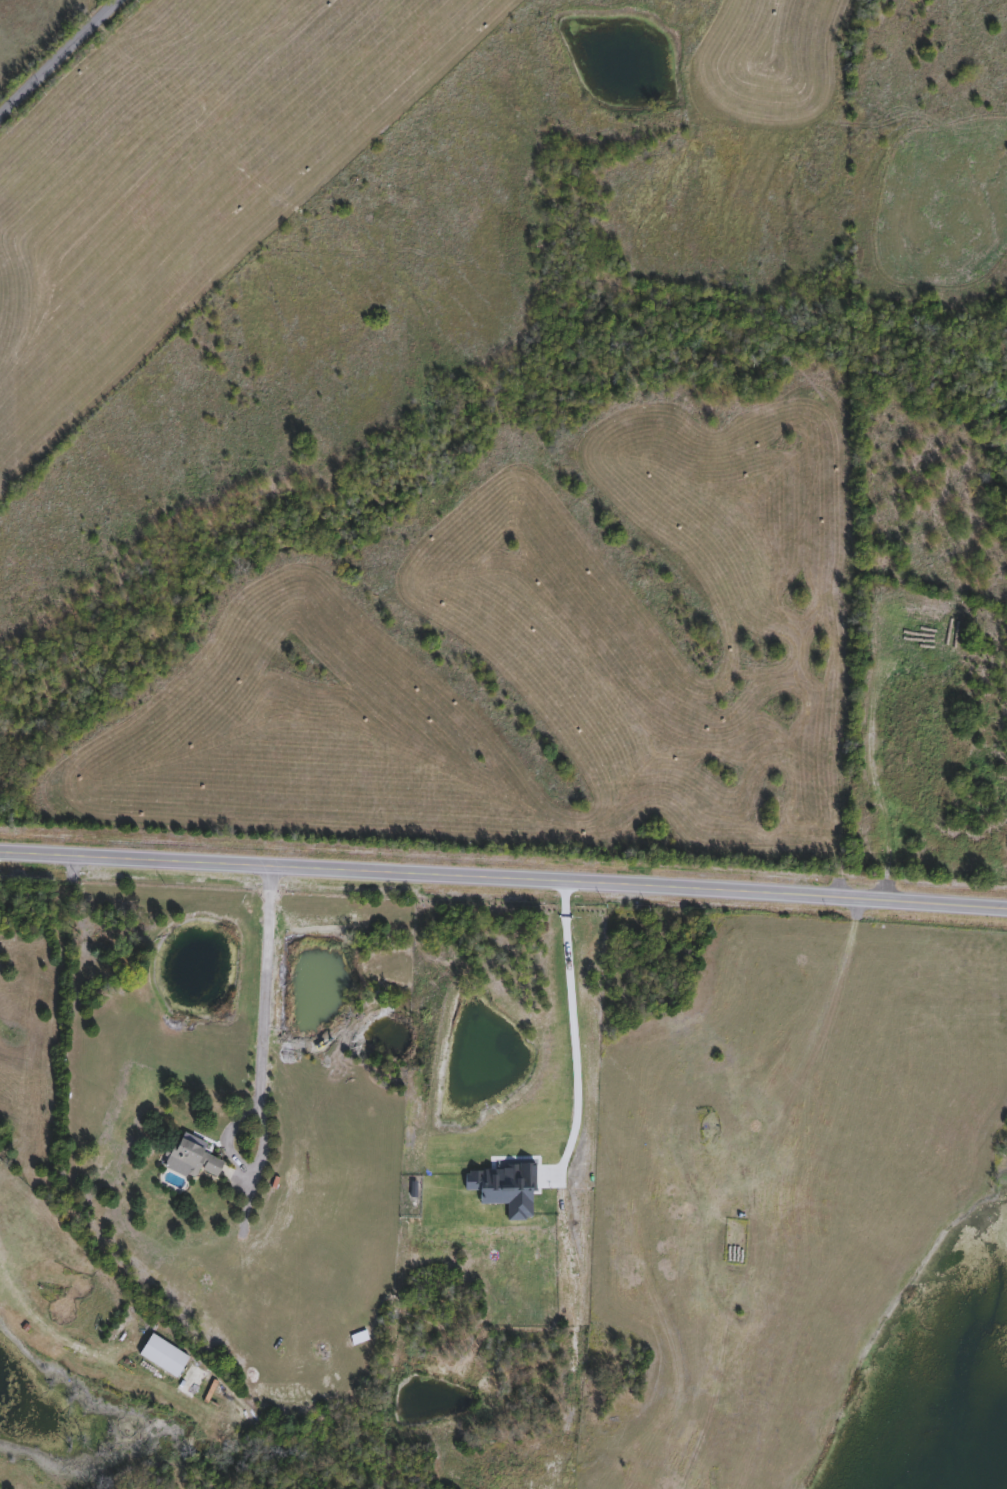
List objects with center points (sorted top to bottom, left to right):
road: (57, 57)
road: (503, 878)
road: (257, 983)
road: (575, 1036)
building: (196, 1161)
road: (45, 1334)
building: (360, 1339)
building: (165, 1356)

